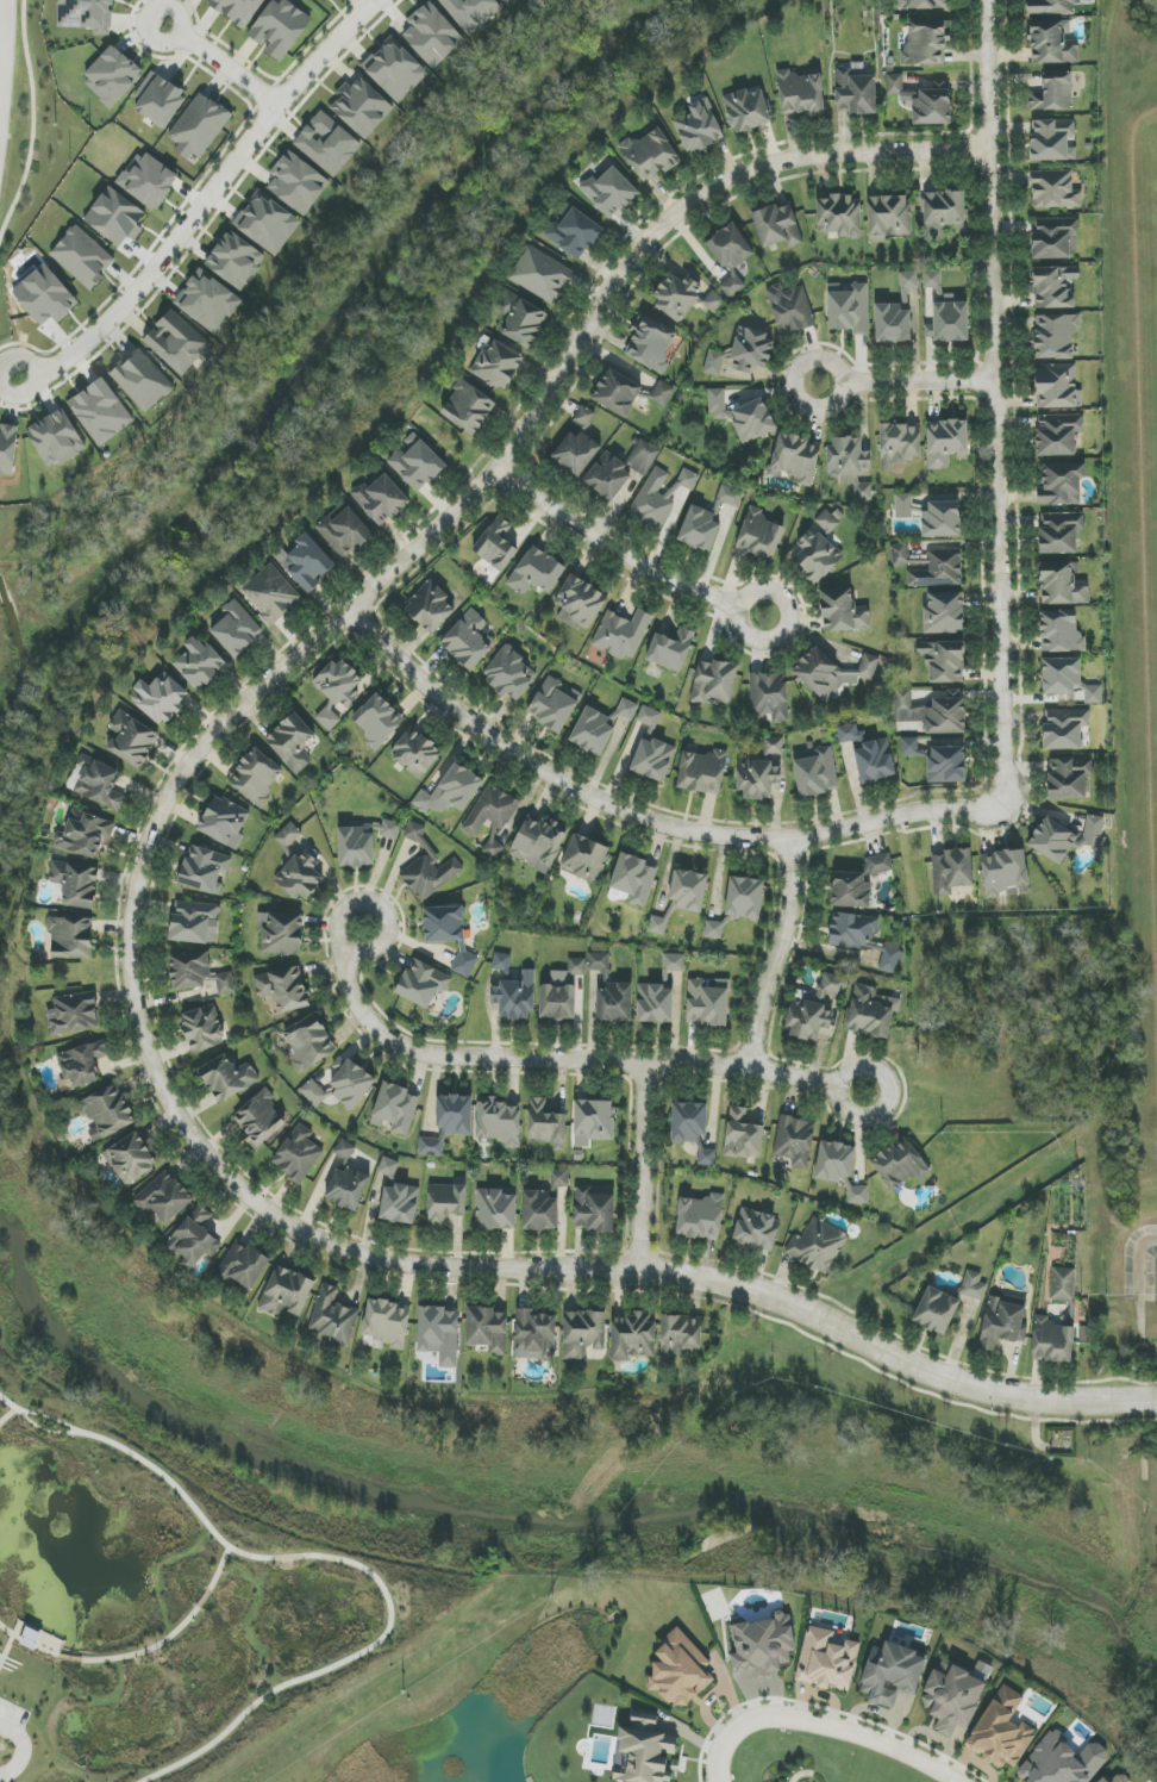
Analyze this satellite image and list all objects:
building: (324, 1)
building: (507, 1)
building: (918, 4)
building: (1051, 6)
building: (237, 10)
building: (471, 12)
building: (87, 14)
building: (280, 29)
building: (432, 35)
road: (170, 42)
building: (925, 42)
building: (1052, 42)
road: (2, 46)
road: (230, 69)
building: (395, 69)
building: (112, 75)
building: (855, 92)
building: (801, 93)
building: (1053, 93)
building: (158, 99)
building: (361, 107)
building: (748, 110)
road: (33, 119)
building: (200, 126)
building: (699, 127)
building: (1052, 139)
building: (327, 143)
building: (650, 154)
building: (149, 180)
building: (298, 183)
building: (1055, 189)
building: (609, 192)
road: (211, 194)
building: (942, 213)
building: (839, 216)
building: (115, 217)
building: (888, 217)
building: (267, 223)
building: (777, 225)
building: (573, 231)
building: (1053, 238)
building: (731, 256)
building: (82, 257)
building: (236, 261)
building: (542, 275)
building: (907, 286)
building: (1053, 287)
building: (678, 294)
building: (45, 295)
building: (208, 301)
building: (713, 301)
building: (849, 307)
building: (790, 309)
building: (945, 312)
building: (520, 319)
building: (892, 323)
building: (1055, 336)
building: (176, 342)
building: (651, 343)
building: (751, 350)
building: (714, 362)
building: (498, 364)
road: (845, 372)
road: (35, 375)
building: (142, 380)
building: (1057, 386)
building: (618, 391)
building: (662, 393)
road: (995, 401)
building: (468, 407)
building: (101, 411)
building: (743, 416)
building: (583, 417)
building: (1058, 434)
building: (56, 438)
building: (945, 442)
building: (899, 444)
building: (8, 448)
building: (575, 453)
building: (643, 456)
building: (794, 459)
building: (417, 463)
building: (850, 465)
building: (608, 476)
building: (1061, 484)
building: (661, 494)
building: (730, 496)
building: (381, 499)
building: (903, 505)
building: (942, 519)
building: (700, 529)
building: (344, 530)
building: (1059, 531)
building: (759, 535)
building: (496, 544)
building: (818, 549)
building: (900, 555)
building: (307, 562)
building: (938, 569)
building: (537, 572)
road: (684, 581)
building: (1062, 584)
building: (270, 594)
building: (580, 603)
building: (430, 606)
building: (843, 611)
building: (943, 613)
building: (236, 629)
building: (1061, 631)
building: (621, 634)
building: (469, 640)
building: (670, 650)
building: (943, 661)
building: (199, 662)
building: (831, 673)
building: (508, 674)
building: (1068, 679)
building: (714, 681)
building: (338, 690)
building: (769, 696)
building: (160, 698)
building: (552, 705)
building: (627, 710)
building: (933, 711)
building: (649, 717)
building: (377, 721)
building: (1064, 728)
building: (592, 731)
building: (131, 739)
building: (292, 742)
building: (909, 746)
building: (415, 753)
building: (869, 754)
building: (653, 759)
building: (946, 765)
building: (762, 771)
building: (815, 771)
building: (701, 772)
building: (256, 775)
building: (1068, 777)
building: (96, 783)
building: (451, 791)
road: (644, 817)
building: (492, 818)
building: (224, 822)
building: (389, 829)
building: (85, 835)
building: (288, 835)
building: (1065, 837)
building: (538, 842)
building: (356, 848)
building: (586, 859)
building: (880, 864)
building: (427, 866)
building: (205, 870)
building: (951, 871)
building: (1005, 873)
building: (304, 874)
building: (634, 879)
building: (75, 883)
building: (689, 890)
building: (850, 890)
building: (739, 903)
building: (195, 922)
building: (661, 922)
road: (131, 928)
building: (852, 930)
building: (281, 933)
building: (449, 933)
building: (70, 937)
road: (780, 949)
building: (889, 960)
building: (674, 962)
building: (189, 970)
building: (224, 984)
building: (423, 984)
building: (283, 987)
building: (611, 992)
building: (563, 993)
building: (515, 997)
building: (707, 1002)
building: (655, 1004)
building: (815, 1009)
building: (871, 1011)
building: (73, 1014)
building: (202, 1028)
building: (308, 1041)
road: (558, 1060)
building: (82, 1063)
building: (227, 1078)
building: (342, 1085)
building: (395, 1109)
building: (107, 1113)
building: (259, 1119)
building: (594, 1120)
building: (498, 1121)
building: (689, 1121)
building: (449, 1123)
building: (546, 1124)
building: (743, 1135)
building: (795, 1141)
building: (344, 1149)
building: (298, 1154)
building: (707, 1157)
building: (131, 1159)
building: (900, 1164)
road: (642, 1166)
building: (388, 1167)
building: (839, 1170)
building: (559, 1179)
building: (348, 1186)
building: (164, 1197)
building: (445, 1202)
building: (399, 1203)
building: (594, 1209)
building: (495, 1210)
building: (540, 1211)
building: (701, 1216)
building: (756, 1229)
building: (194, 1239)
building: (818, 1246)
building: (243, 1265)
building: (1062, 1284)
building: (974, 1285)
building: (286, 1292)
building: (936, 1310)
building: (333, 1317)
building: (387, 1322)
building: (487, 1329)
building: (583, 1333)
building: (439, 1334)
building: (534, 1335)
building: (680, 1335)
building: (632, 1336)
building: (1052, 1340)
road: (11, 1404)
road: (8, 1416)
road: (80, 1433)
road: (374, 1582)
park: (148, 1612)
building: (763, 1645)
road: (7, 1653)
road: (55, 1659)
road: (135, 1660)
building: (826, 1660)
building: (680, 1670)
building: (892, 1674)
road: (123, 1675)
building: (952, 1696)
road: (15, 1706)
road: (73, 1707)
parking lot: (13, 1712)
road: (824, 1725)
building: (1001, 1731)
road: (20, 1750)
building: (644, 1751)
road: (77, 1762)
building: (1061, 1762)
building: (1119, 1778)
building: (1102, 1780)

